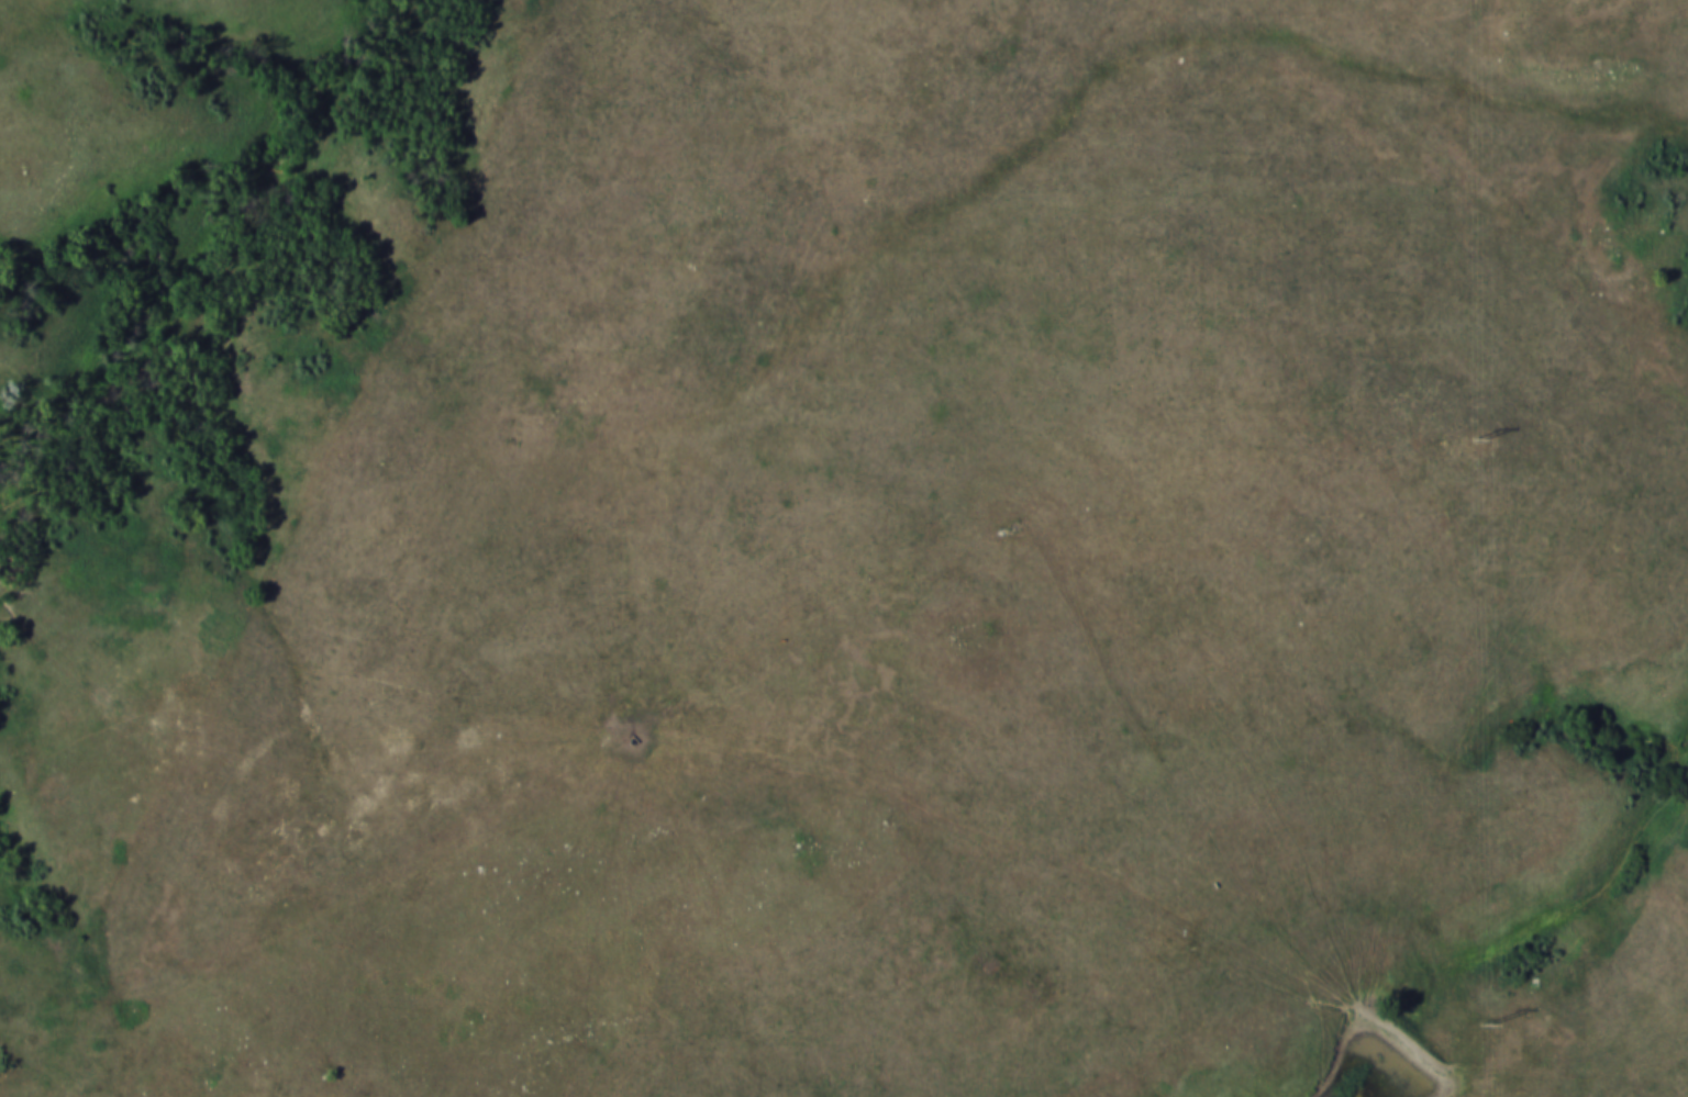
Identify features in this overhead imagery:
power tower: (1484, 441)
power tower: (1498, 1023)

